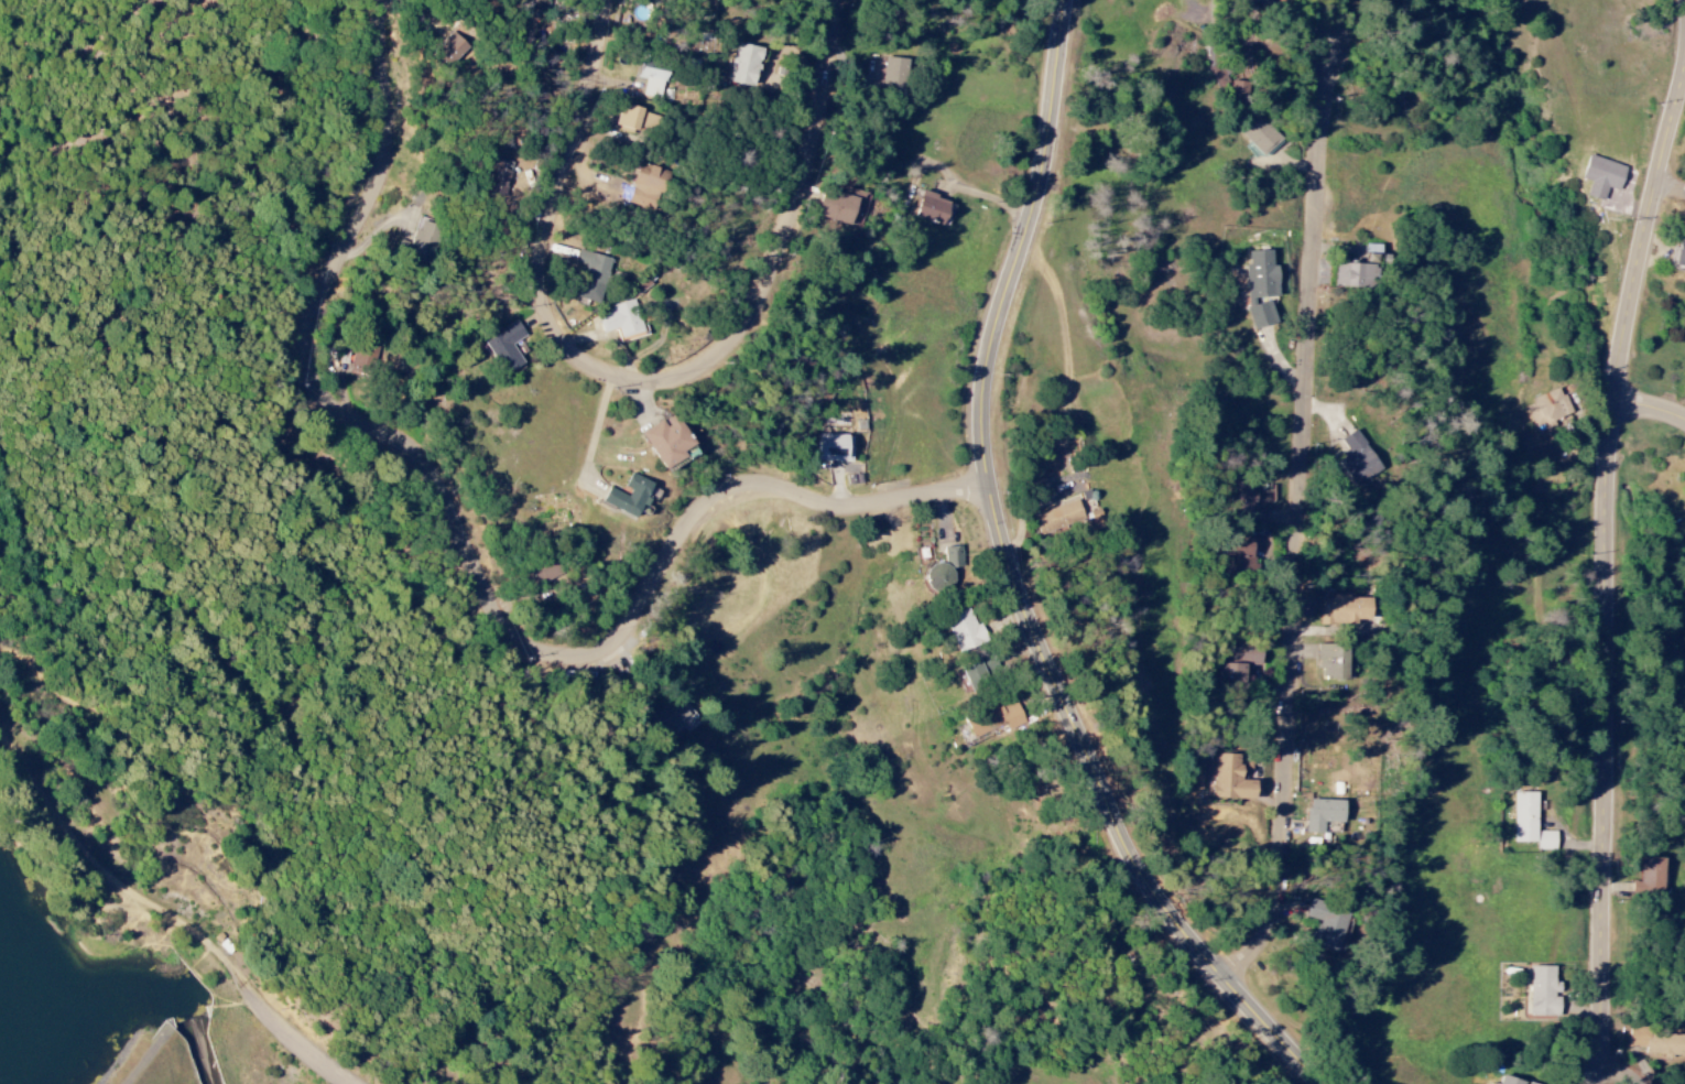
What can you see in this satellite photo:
building: (1263, 1)
building: (453, 48)
building: (743, 65)
building: (892, 76)
building: (1219, 76)
building: (651, 82)
building: (632, 118)
building: (1261, 135)
building: (499, 178)
road: (1674, 185)
building: (648, 187)
building: (838, 209)
building: (931, 209)
building: (418, 242)
building: (1682, 250)
building: (1361, 270)
building: (591, 275)
building: (1261, 288)
building: (622, 321)
building: (506, 347)
building: (365, 362)
road: (657, 379)
building: (1546, 409)
road: (1651, 411)
building: (668, 441)
building: (834, 448)
building: (1358, 459)
building: (628, 497)
building: (1243, 503)
building: (1058, 518)
road: (1307, 522)
building: (1237, 554)
road: (480, 562)
building: (943, 572)
road: (1608, 577)
road: (1020, 581)
building: (1345, 611)
building: (966, 632)
building: (1334, 663)
building: (1239, 665)
building: (977, 676)
building: (672, 716)
road: (23, 759)
building: (1235, 781)
building: (1324, 815)
building: (1530, 824)
building: (1651, 877)
road: (129, 881)
building: (1330, 925)
building: (1543, 993)
road: (282, 1021)
building: (1657, 1041)
road: (1623, 1072)
building: (1512, 1081)

